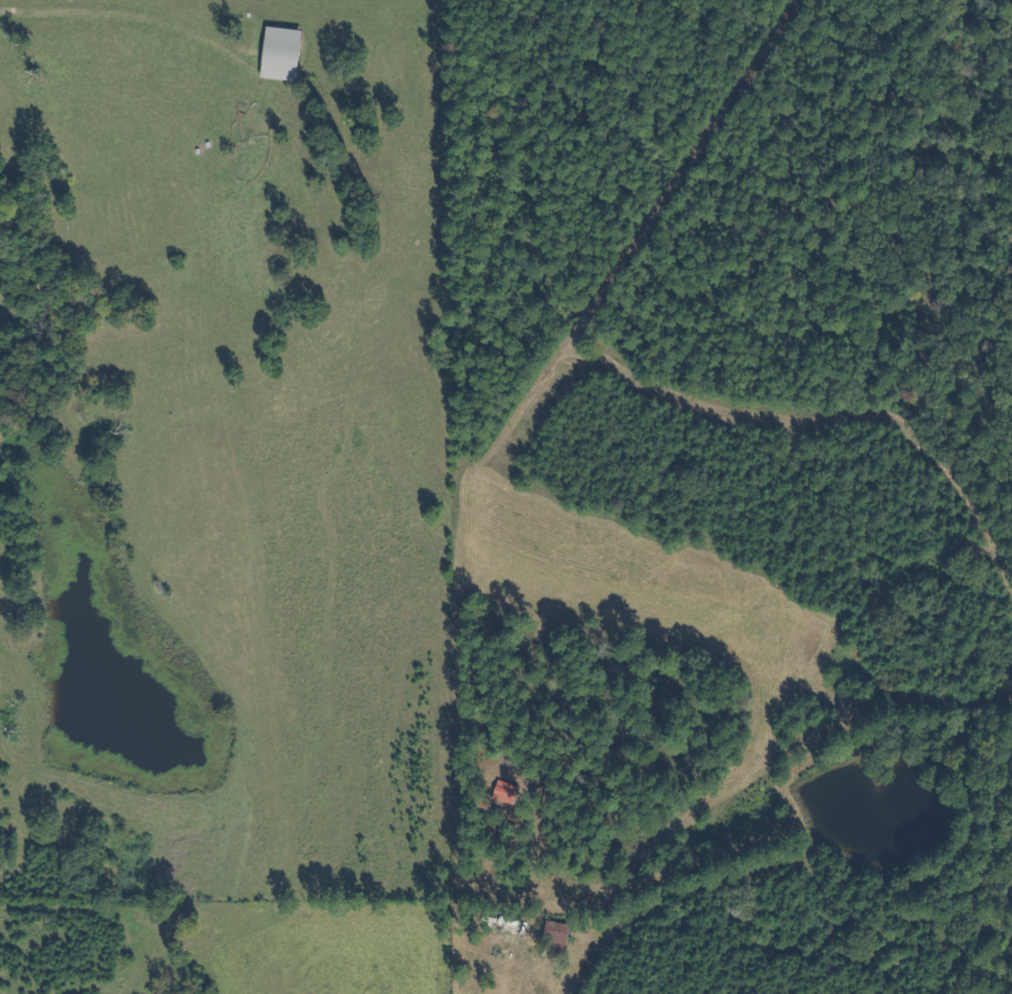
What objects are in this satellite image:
building: (278, 52)
building: (552, 933)

